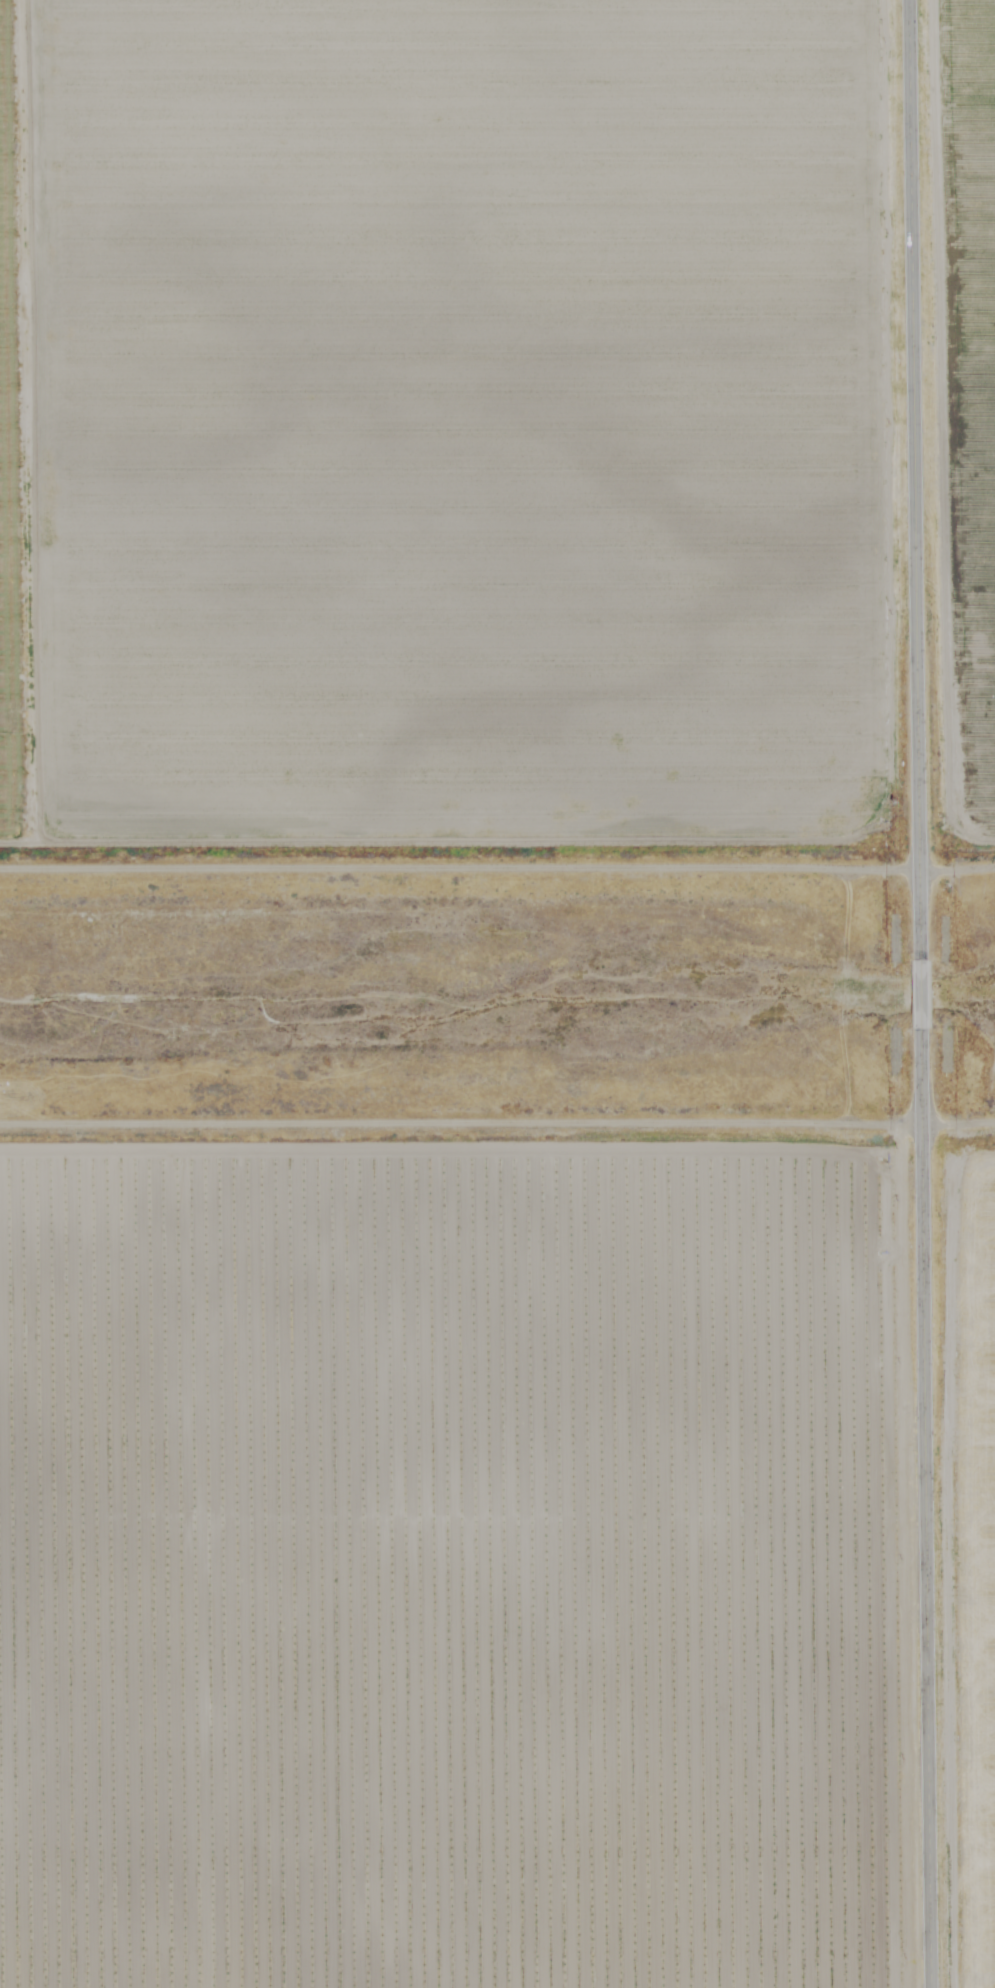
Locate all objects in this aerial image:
crop: (497, 432)
road: (914, 481)
road: (920, 997)
road: (497, 1130)
road: (926, 1509)
crop: (497, 1569)

